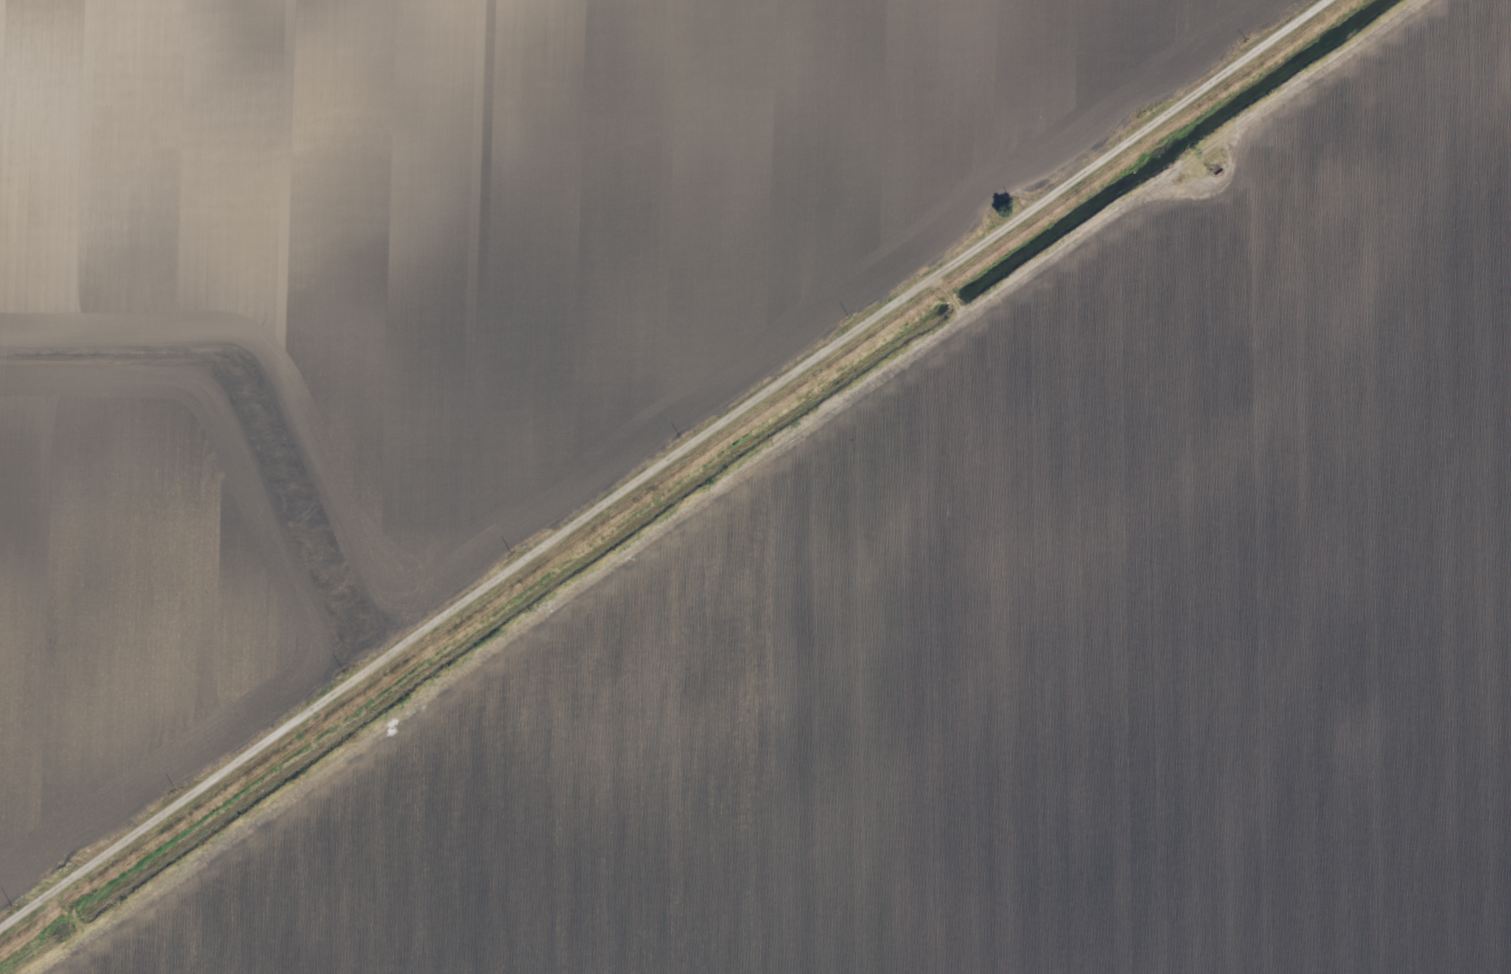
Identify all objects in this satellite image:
road: (666, 442)

